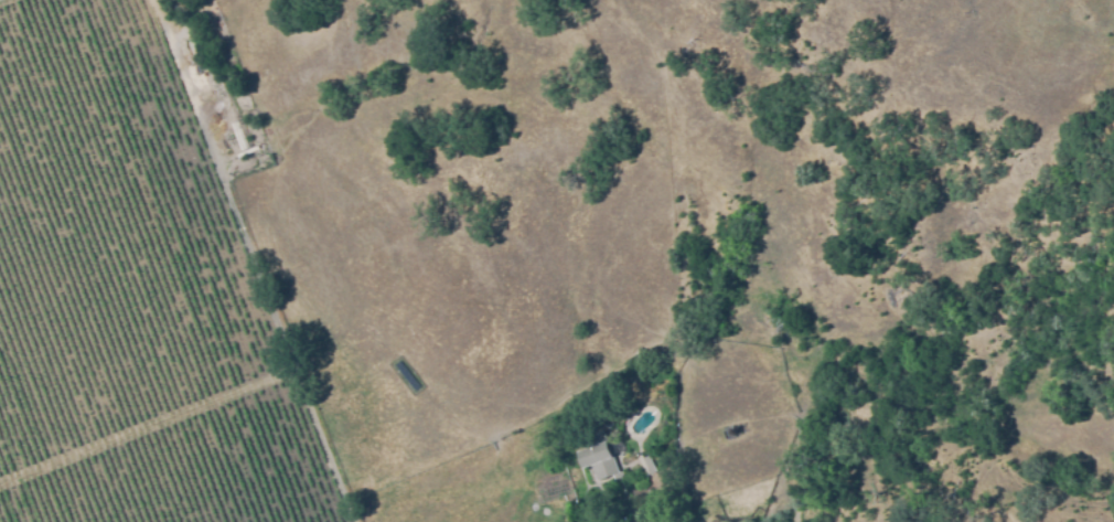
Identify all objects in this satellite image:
building: (609, 411)
building: (731, 433)
building: (598, 458)
building: (649, 462)
building: (361, 504)

